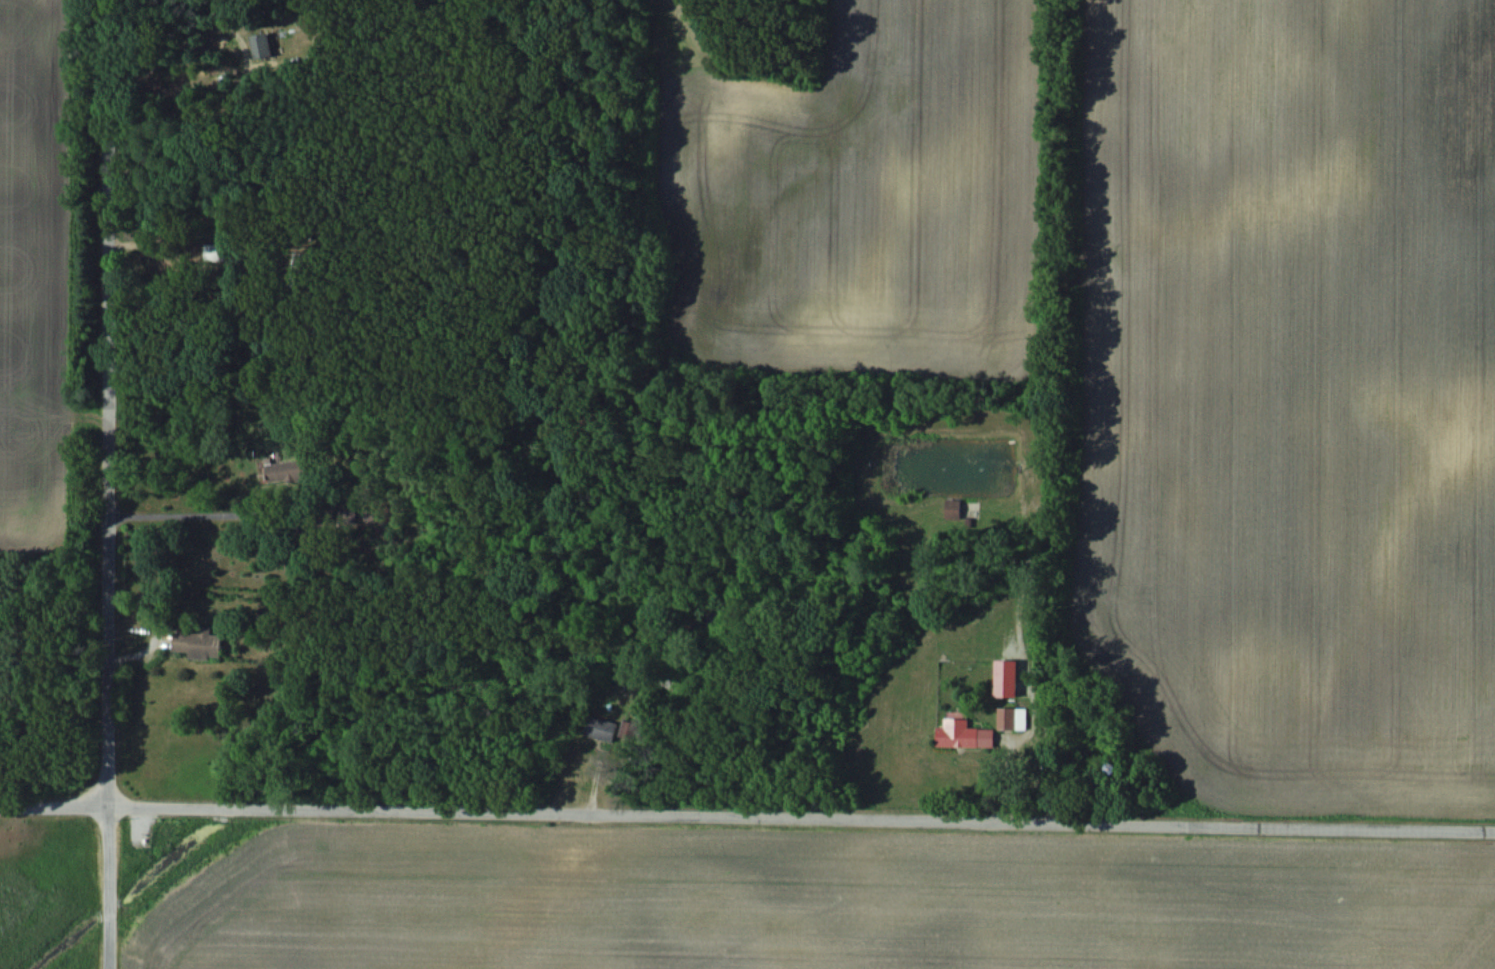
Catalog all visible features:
building: (277, 473)
road: (107, 484)
building: (201, 643)
building: (1008, 718)
building: (600, 728)
building: (965, 734)
road: (747, 815)

